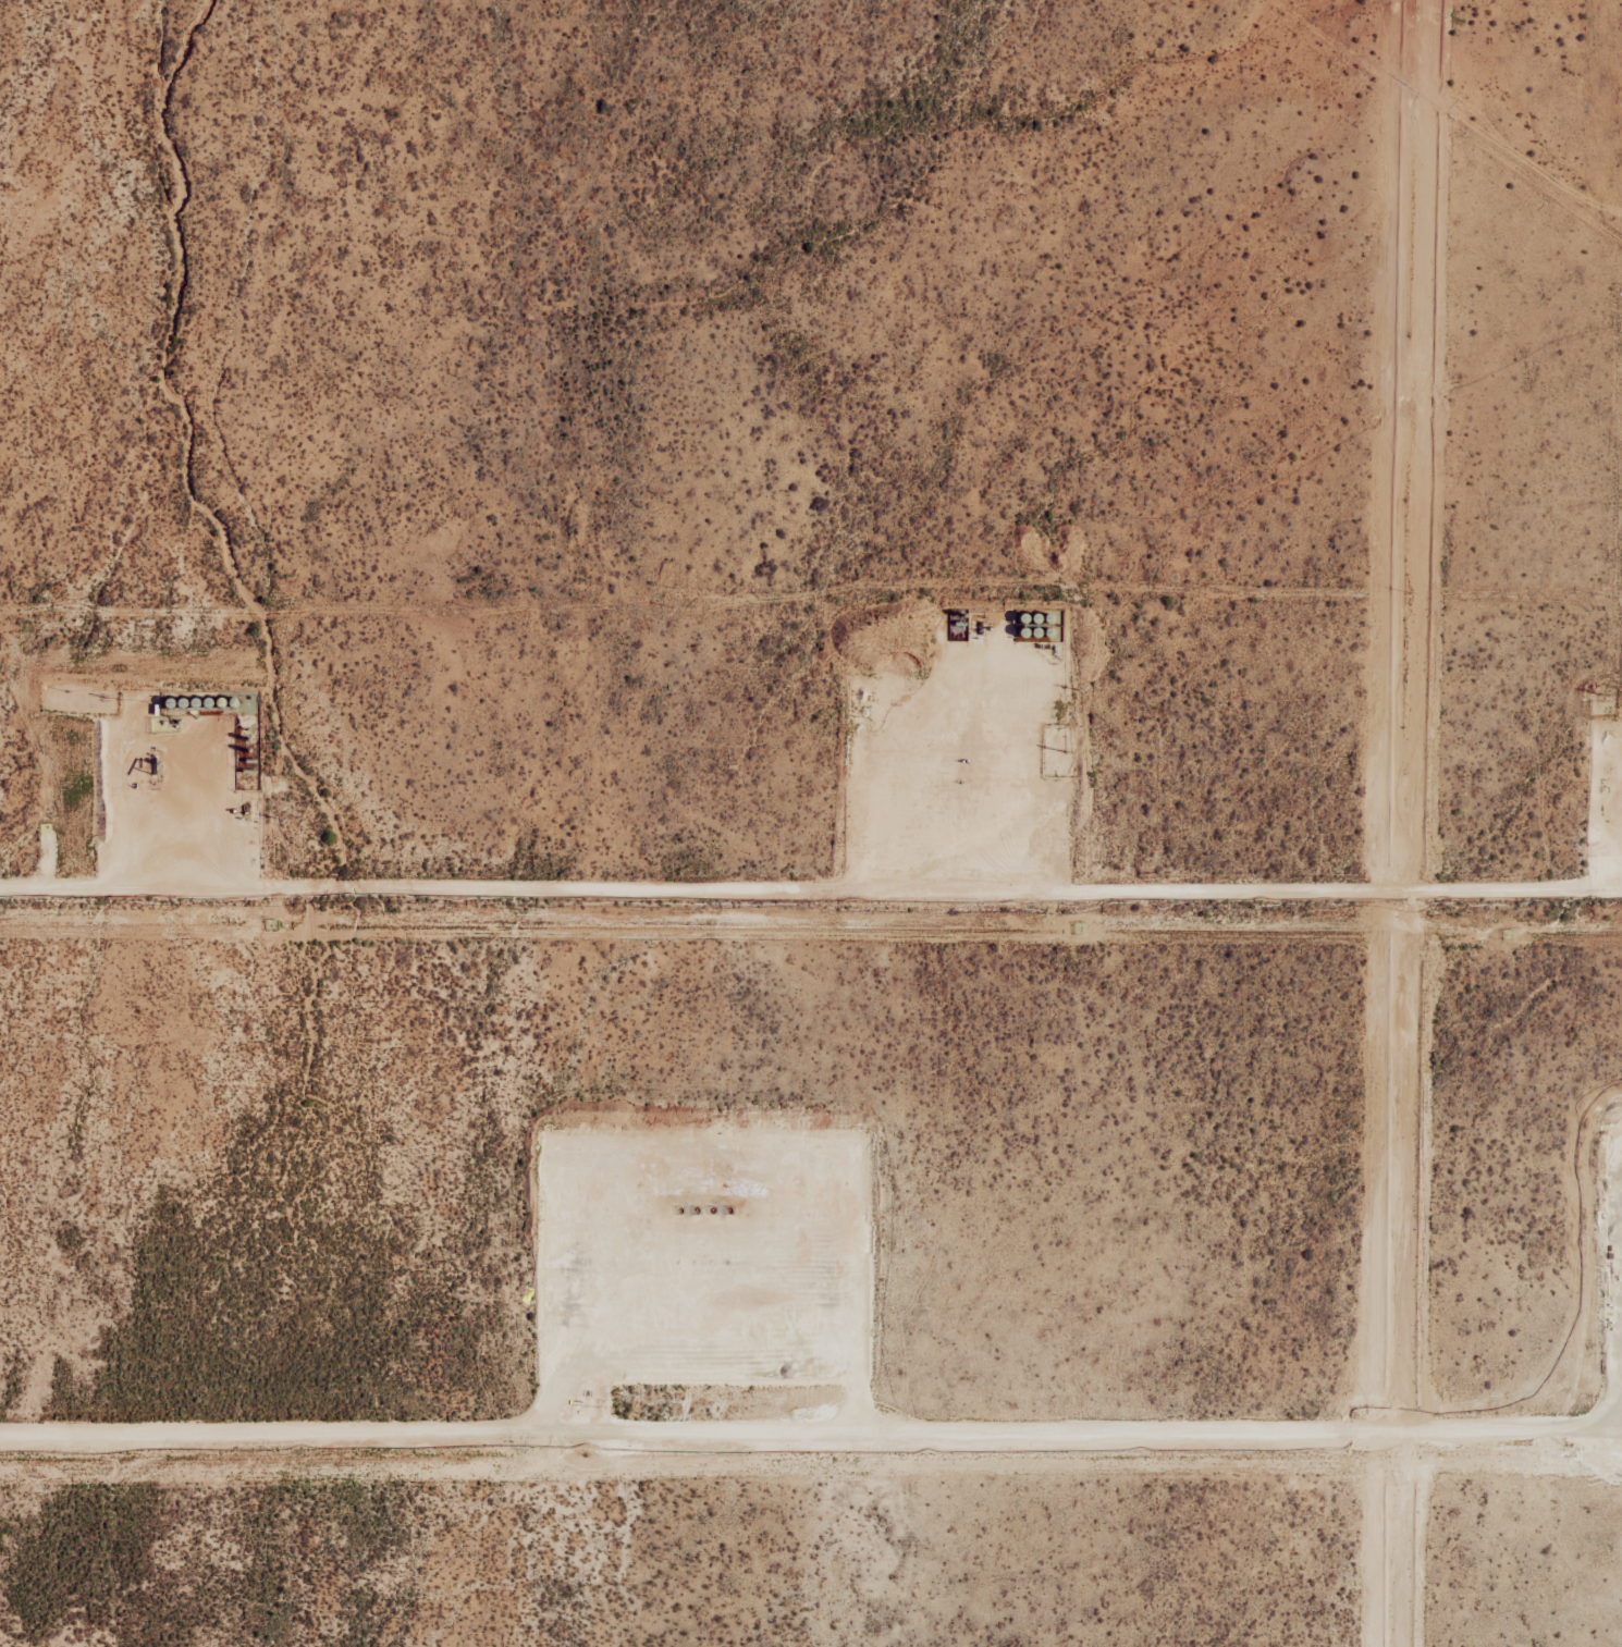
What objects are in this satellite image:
petroleum well: (153, 766)
road: (932, 775)
petroleum well: (958, 779)
road: (120, 791)
road: (810, 882)
petroleum well: (679, 1209)
petroleum well: (696, 1209)
petroleum well: (712, 1209)
petroleum well: (728, 1209)
road: (810, 1228)
road: (810, 1428)

